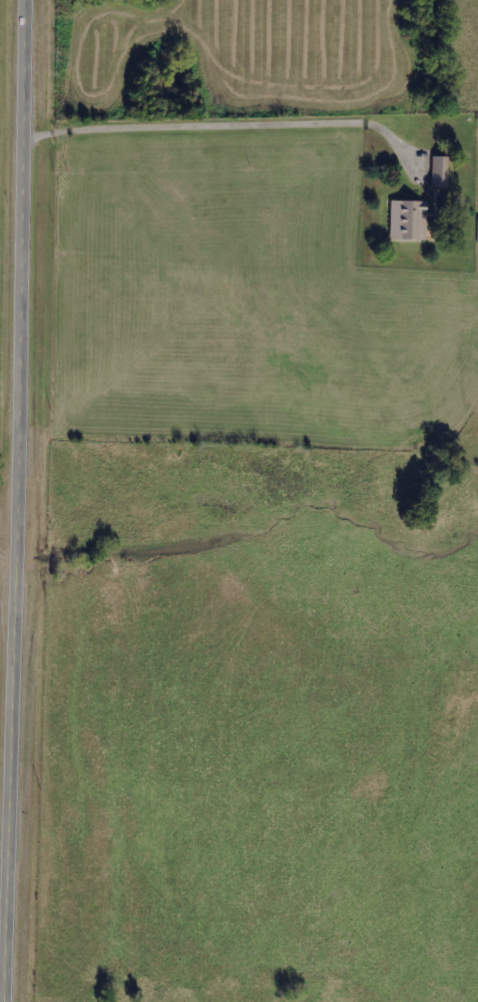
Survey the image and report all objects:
building: (438, 172)
building: (406, 220)
road: (13, 454)

